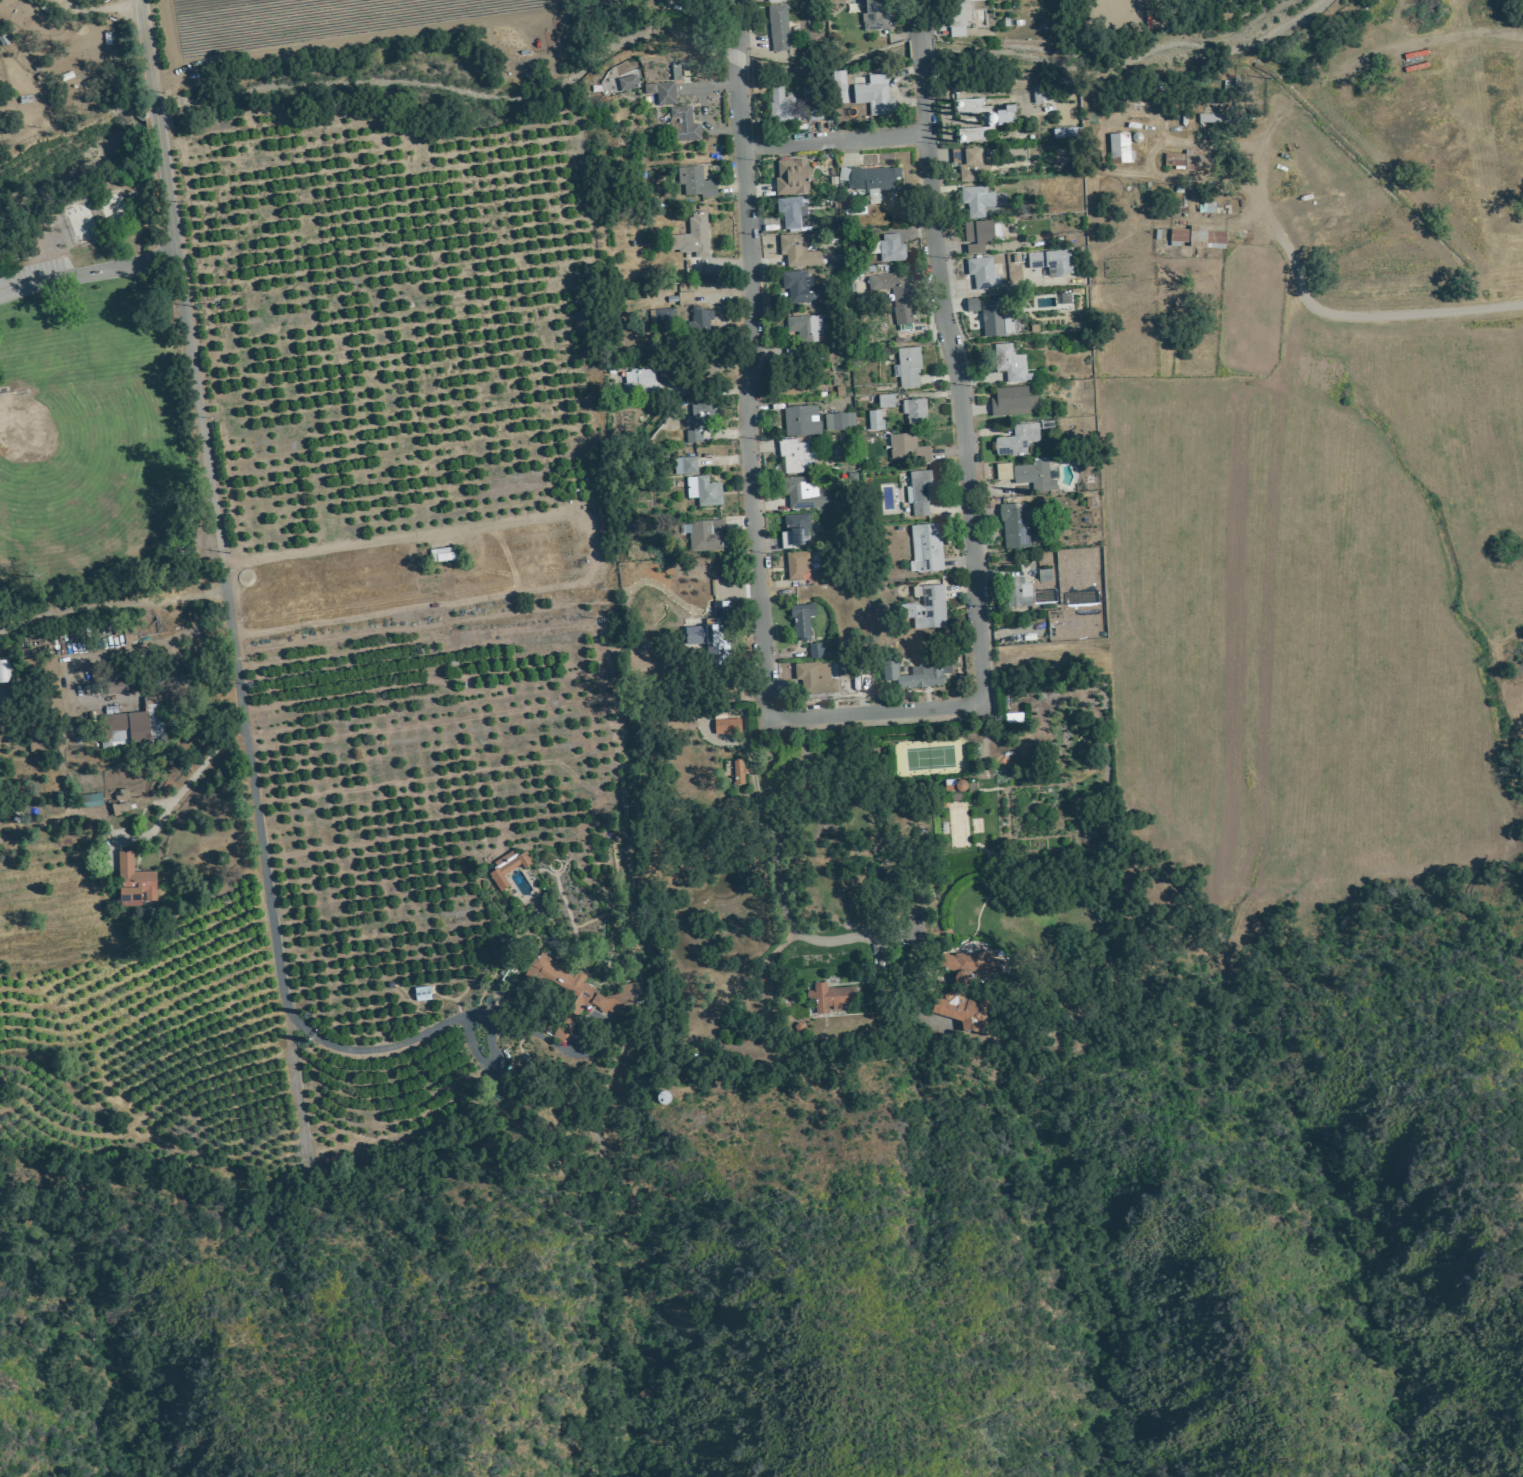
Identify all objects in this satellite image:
building: (775, 1)
road: (96, 10)
building: (875, 16)
building: (959, 17)
road: (916, 18)
road: (730, 24)
building: (778, 28)
road: (1457, 33)
road: (918, 47)
road: (144, 52)
road: (732, 56)
building: (630, 82)
building: (840, 87)
building: (662, 93)
building: (875, 96)
building: (780, 106)
building: (815, 113)
road: (154, 119)
building: (1210, 119)
building: (683, 125)
road: (830, 136)
building: (1121, 147)
building: (1187, 161)
building: (970, 164)
building: (792, 177)
building: (872, 181)
building: (696, 183)
building: (977, 201)
building: (978, 236)
building: (1179, 236)
building: (692, 237)
building: (1207, 239)
building: (892, 248)
building: (798, 252)
building: (1052, 262)
parking lot: (29, 269)
road: (86, 270)
building: (983, 273)
building: (801, 288)
building: (895, 295)
building: (685, 299)
building: (972, 305)
road: (1323, 315)
building: (661, 316)
building: (996, 320)
building: (701, 321)
building: (805, 326)
building: (1011, 364)
building: (909, 368)
building: (642, 384)
park: (86, 393)
building: (886, 401)
building: (1013, 402)
building: (915, 412)
building: (699, 421)
building: (801, 421)
building: (875, 421)
building: (839, 422)
building: (1018, 440)
park: (48, 443)
building: (907, 449)
building: (796, 456)
building: (685, 466)
building: (1003, 472)
building: (1033, 476)
road: (965, 480)
building: (704, 491)
building: (920, 493)
road: (747, 500)
building: (1014, 526)
road: (479, 527)
building: (795, 532)
building: (703, 536)
building: (926, 548)
building: (798, 566)
building: (1044, 576)
building: (817, 579)
building: (1018, 593)
building: (1047, 595)
building: (927, 608)
building: (802, 619)
building: (709, 640)
building: (816, 651)
building: (4, 671)
building: (919, 672)
road: (233, 673)
building: (816, 678)
building: (116, 686)
road: (872, 708)
building: (134, 725)
building: (727, 726)
building: (738, 772)
building: (961, 793)
building: (92, 800)
building: (120, 802)
building: (508, 867)
building: (134, 881)
road: (887, 939)
building: (968, 961)
building: (764, 983)
building: (585, 987)
building: (831, 997)
building: (961, 1010)
building: (562, 1032)

